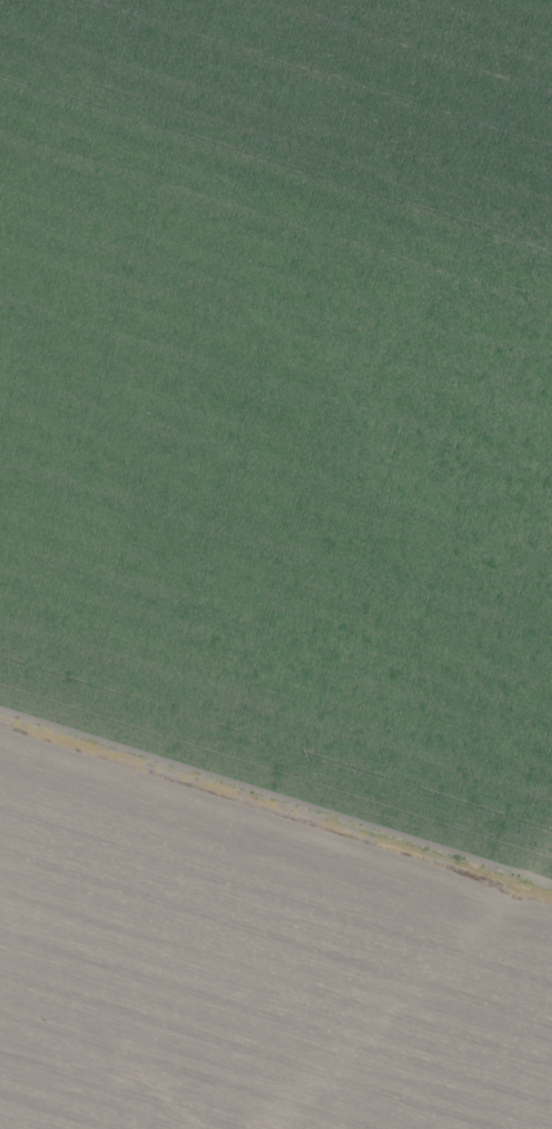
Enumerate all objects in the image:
road: (275, 826)

